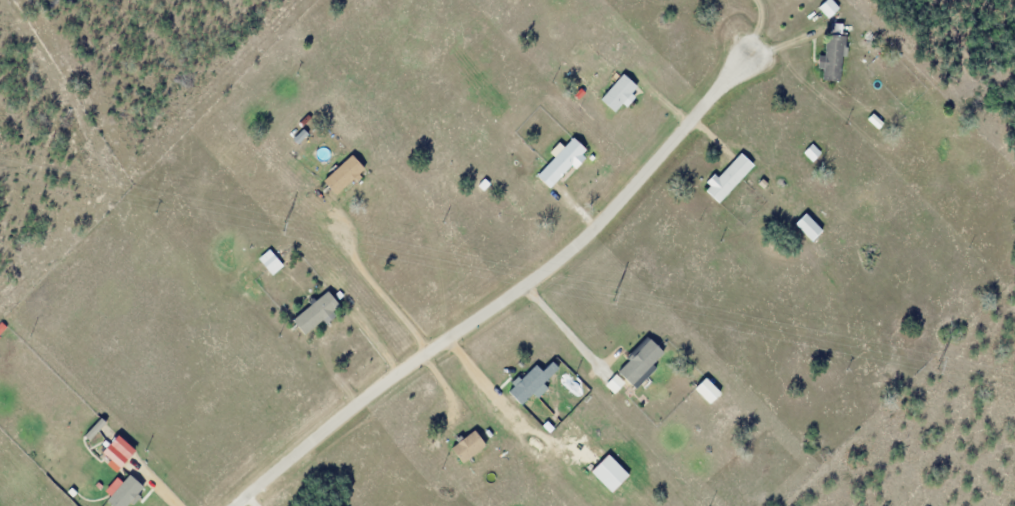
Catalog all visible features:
building: (510, 0)
building: (828, 7)
building: (833, 51)
building: (619, 92)
building: (561, 162)
building: (342, 173)
building: (728, 177)
power tower: (284, 225)
building: (807, 226)
power tower: (614, 294)
road: (504, 297)
power tower: (936, 361)
building: (525, 383)
building: (544, 468)

